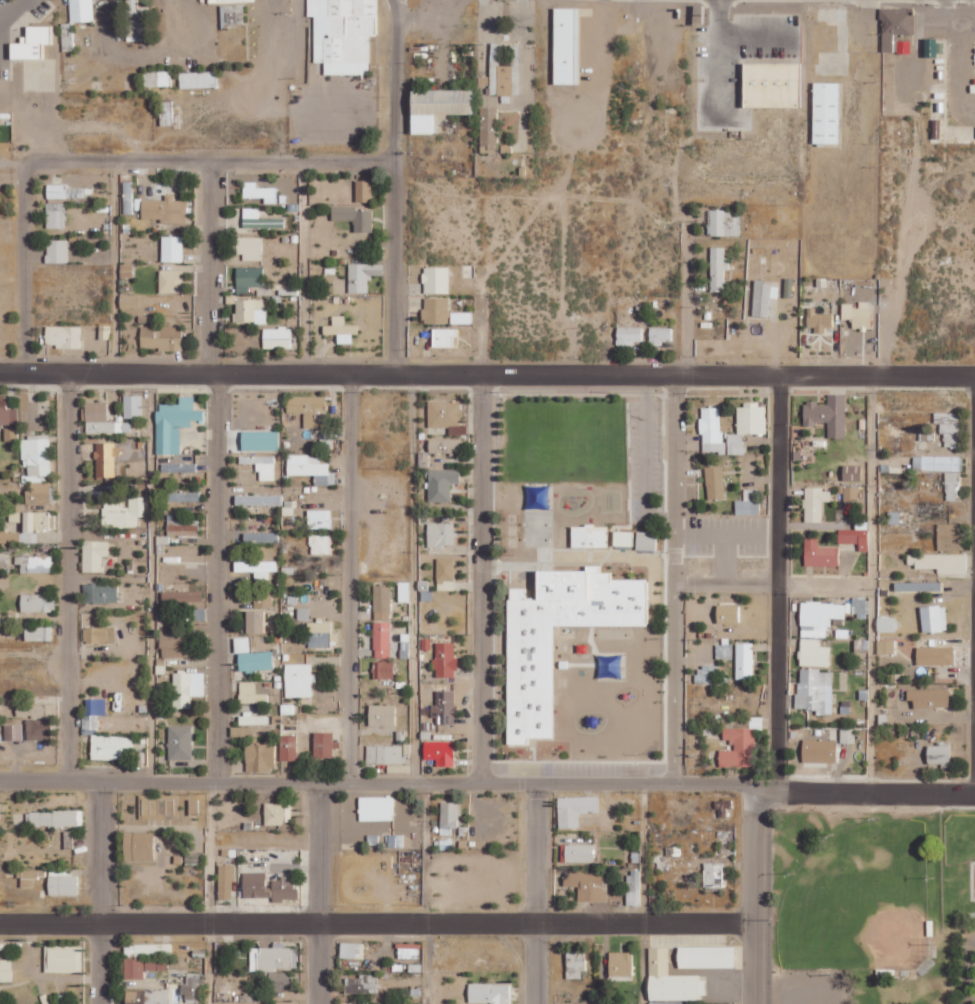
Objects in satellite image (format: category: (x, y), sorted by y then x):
building: (219, 1)
road: (10, 10)
building: (81, 10)
building: (232, 15)
building: (134, 21)
building: (894, 26)
building: (341, 34)
building: (67, 36)
road: (755, 36)
building: (565, 46)
road: (720, 54)
building: (34, 59)
building: (504, 73)
building: (156, 78)
building: (197, 79)
road: (396, 79)
building: (770, 85)
building: (435, 108)
building: (165, 112)
building: (824, 113)
building: (488, 129)
road: (212, 161)
building: (363, 189)
building: (56, 191)
building: (260, 192)
building: (127, 201)
building: (164, 210)
building: (55, 215)
building: (354, 217)
building: (259, 219)
building: (724, 222)
building: (172, 248)
building: (250, 248)
building: (56, 251)
road: (115, 268)
road: (210, 268)
road: (303, 268)
road: (398, 268)
building: (718, 268)
road: (26, 269)
building: (362, 276)
building: (248, 279)
building: (435, 279)
building: (170, 281)
building: (788, 287)
road: (689, 296)
building: (762, 298)
building: (129, 301)
building: (435, 310)
building: (250, 311)
building: (858, 314)
building: (460, 317)
building: (817, 320)
building: (340, 329)
building: (629, 335)
building: (659, 335)
building: (62, 336)
building: (161, 336)
building: (443, 336)
building: (277, 337)
road: (487, 375)
road: (974, 397)
building: (132, 406)
building: (307, 408)
building: (6, 413)
building: (443, 413)
building: (827, 414)
building: (99, 418)
building: (174, 423)
building: (746, 425)
building: (948, 427)
building: (711, 430)
building: (10, 434)
building: (260, 440)
building: (444, 447)
building: (35, 457)
building: (105, 459)
building: (937, 463)
building: (178, 467)
building: (310, 468)
building: (852, 473)
building: (714, 482)
building: (441, 484)
building: (951, 484)
building: (38, 493)
building: (851, 493)
building: (182, 497)
building: (258, 500)
building: (748, 502)
building: (814, 503)
building: (122, 512)
building: (319, 518)
building: (182, 527)
building: (440, 534)
building: (855, 535)
building: (588, 536)
building: (949, 536)
building: (261, 537)
building: (622, 538)
building: (646, 541)
building: (320, 543)
building: (819, 553)
building: (93, 555)
building: (940, 562)
building: (34, 564)
building: (255, 566)
building: (444, 574)
road: (217, 575)
road: (68, 576)
road: (150, 576)
road: (350, 577)
road: (413, 577)
road: (480, 578)
road: (671, 578)
road: (777, 583)
road: (822, 583)
road: (869, 584)
building: (917, 586)
building: (403, 591)
building: (100, 593)
building: (180, 596)
building: (262, 600)
building: (37, 602)
building: (381, 602)
building: (860, 607)
building: (727, 613)
building: (303, 614)
building: (197, 615)
building: (820, 617)
building: (933, 618)
building: (255, 621)
building: (885, 624)
building: (38, 633)
building: (318, 633)
building: (98, 635)
building: (381, 639)
building: (241, 644)
building: (177, 646)
building: (885, 646)
building: (813, 653)
building: (935, 655)
building: (445, 660)
building: (744, 660)
building: (255, 661)
building: (382, 669)
building: (708, 675)
building: (298, 680)
building: (530, 681)
building: (187, 688)
building: (814, 689)
building: (250, 693)
building: (929, 698)
building: (95, 706)
building: (444, 708)
building: (34, 710)
building: (381, 715)
building: (253, 720)
building: (37, 729)
building: (12, 732)
building: (105, 742)
building: (179, 742)
building: (322, 744)
building: (739, 744)
building: (288, 747)
building: (819, 751)
building: (439, 752)
building: (384, 754)
building: (939, 754)
building: (259, 757)
road: (366, 780)
road: (853, 791)
building: (193, 807)
building: (376, 808)
building: (575, 809)
building: (277, 814)
building: (54, 818)
building: (396, 840)
building: (138, 846)
building: (578, 853)
building: (657, 862)
building: (712, 875)
building: (30, 877)
building: (61, 881)
building: (225, 881)
building: (586, 884)
building: (253, 885)
building: (633, 888)
building: (284, 889)
road: (101, 891)
road: (210, 891)
road: (320, 892)
road: (426, 892)
road: (534, 892)
road: (641, 892)
road: (751, 894)
park: (857, 901)
road: (375, 924)
building: (147, 949)
building: (352, 950)
building: (408, 950)
building: (705, 956)
building: (273, 958)
building: (63, 959)
building: (620, 963)
building: (575, 964)
building: (143, 966)
building: (6, 969)
building: (671, 979)
building: (280, 980)
building: (361, 984)
building: (193, 988)
building: (488, 993)
building: (146, 996)
building: (668, 1002)
building: (396, 1003)

